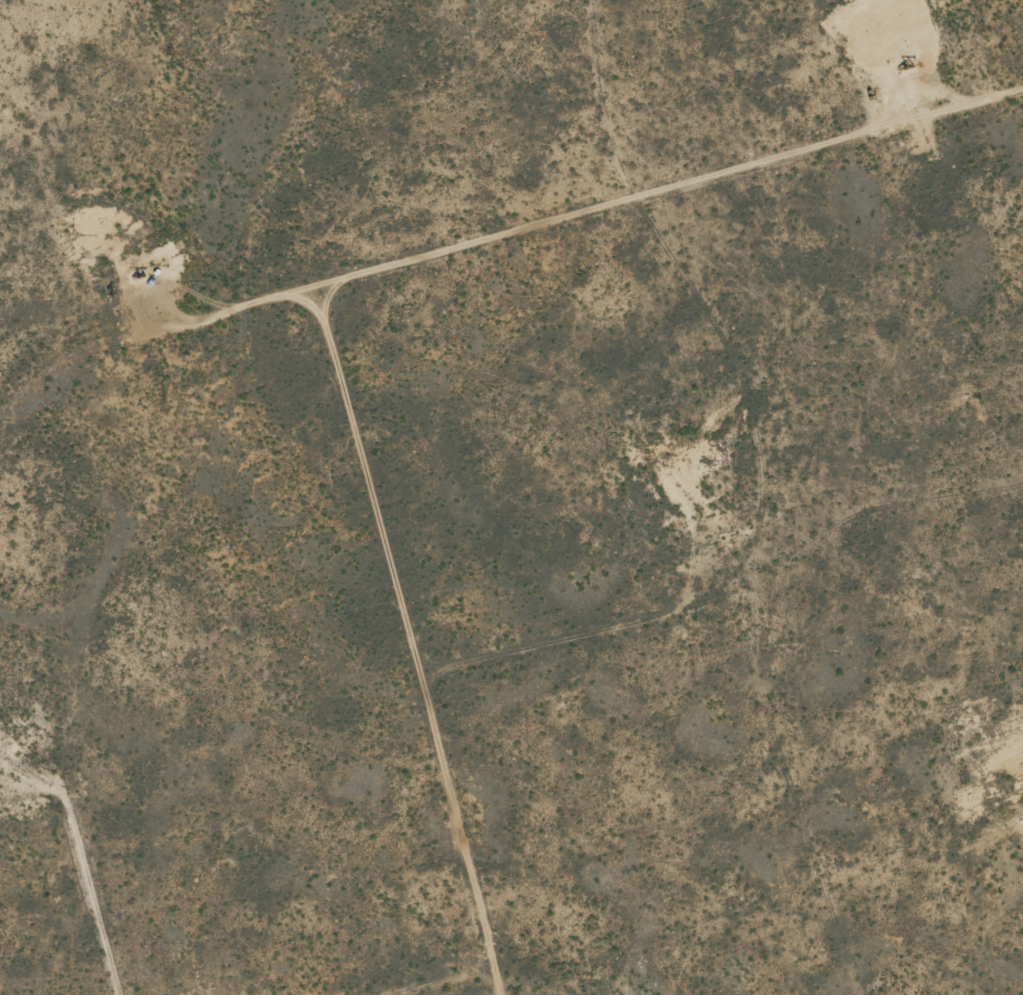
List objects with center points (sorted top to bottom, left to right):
road: (432, 735)
road: (45, 878)

